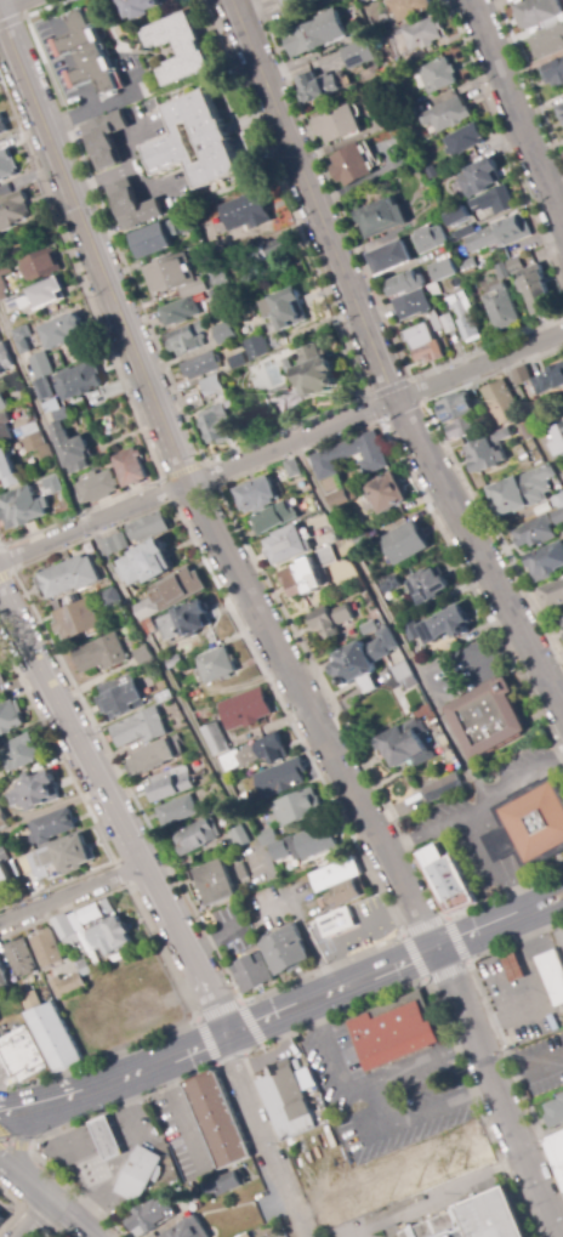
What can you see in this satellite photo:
building: (363, 1)
road: (11, 4)
building: (296, 4)
building: (142, 7)
building: (404, 10)
building: (536, 11)
building: (383, 18)
road: (11, 21)
building: (311, 35)
building: (420, 35)
building: (548, 41)
building: (180, 49)
building: (92, 55)
building: (358, 55)
building: (553, 74)
building: (438, 75)
road: (529, 81)
building: (317, 87)
building: (148, 103)
building: (561, 110)
road: (518, 113)
building: (405, 115)
building: (447, 115)
building: (336, 124)
building: (2, 126)
building: (464, 140)
building: (106, 141)
building: (195, 142)
road: (504, 142)
building: (6, 165)
road: (135, 165)
building: (349, 166)
building: (479, 178)
road: (103, 180)
building: (5, 191)
road: (312, 199)
building: (494, 200)
building: (132, 205)
building: (13, 210)
building: (245, 212)
building: (380, 217)
building: (456, 217)
building: (464, 232)
building: (500, 234)
building: (428, 238)
building: (157, 240)
building: (17, 242)
building: (263, 254)
building: (388, 257)
building: (40, 266)
road: (363, 266)
building: (449, 268)
building: (5, 269)
building: (175, 278)
building: (218, 279)
building: (529, 284)
building: (410, 295)
building: (40, 296)
building: (205, 302)
building: (501, 308)
building: (285, 310)
building: (181, 311)
building: (464, 316)
building: (436, 322)
building: (447, 324)
building: (62, 331)
building: (223, 334)
building: (187, 339)
building: (0, 342)
building: (24, 342)
building: (423, 345)
building: (256, 348)
building: (5, 358)
building: (233, 358)
road: (113, 359)
building: (200, 365)
road: (479, 367)
building: (317, 373)
building: (521, 374)
building: (41, 375)
building: (550, 379)
building: (80, 381)
building: (15, 382)
building: (205, 387)
road: (386, 387)
building: (278, 391)
building: (501, 402)
building: (2, 403)
building: (538, 405)
building: (454, 408)
building: (61, 415)
building: (546, 418)
road: (530, 419)
building: (216, 421)
building: (5, 429)
building: (461, 429)
building: (527, 430)
building: (502, 435)
building: (559, 438)
building: (38, 447)
building: (70, 448)
road: (239, 449)
building: (523, 454)
building: (482, 455)
parking lot: (561, 460)
building: (326, 463)
road: (456, 466)
building: (8, 467)
building: (130, 469)
building: (292, 469)
road: (181, 470)
road: (197, 478)
building: (49, 483)
building: (97, 487)
building: (521, 489)
building: (388, 490)
building: (258, 494)
building: (342, 498)
building: (558, 499)
building: (23, 507)
road: (227, 507)
building: (557, 517)
building: (274, 518)
building: (149, 528)
building: (534, 532)
building: (405, 540)
building: (363, 543)
building: (115, 544)
building: (286, 545)
road: (479, 554)
building: (545, 561)
building: (147, 563)
road: (12, 571)
road: (6, 573)
building: (307, 574)
building: (70, 577)
building: (387, 584)
building: (428, 585)
building: (552, 594)
building: (170, 596)
building: (108, 598)
building: (561, 618)
building: (76, 620)
building: (187, 620)
building: (331, 620)
road: (387, 620)
building: (438, 626)
road: (267, 630)
building: (101, 654)
road: (157, 657)
building: (364, 660)
building: (174, 662)
building: (217, 665)
building: (405, 676)
building: (1, 679)
building: (120, 698)
building: (404, 707)
building: (245, 710)
building: (10, 717)
building: (487, 717)
building: (141, 728)
building: (216, 739)
building: (409, 741)
building: (18, 753)
building: (256, 754)
building: (150, 757)
building: (281, 778)
road: (514, 781)
building: (170, 785)
building: (443, 788)
building: (33, 793)
road: (86, 807)
building: (298, 807)
building: (177, 811)
road: (115, 813)
building: (2, 821)
building: (233, 822)
building: (528, 824)
building: (53, 825)
building: (195, 836)
building: (268, 836)
road: (480, 836)
building: (239, 838)
building: (308, 842)
building: (61, 858)
building: (15, 861)
building: (241, 872)
building: (4, 874)
building: (335, 875)
building: (445, 878)
building: (216, 884)
road: (507, 887)
road: (70, 891)
building: (353, 892)
building: (339, 924)
road: (403, 934)
building: (110, 936)
building: (72, 937)
building: (45, 948)
building: (286, 953)
building: (21, 958)
building: (512, 964)
building: (85, 968)
building: (252, 972)
building: (2, 975)
building: (552, 975)
road: (178, 985)
building: (67, 986)
road: (218, 1010)
road: (283, 1014)
road: (443, 1025)
building: (394, 1031)
road: (495, 1032)
building: (53, 1035)
building: (23, 1052)
road: (529, 1073)
building: (286, 1101)
building: (555, 1113)
building: (216, 1118)
road: (59, 1128)
parking lot: (373, 1128)
building: (107, 1136)
road: (265, 1136)
road: (4, 1144)
road: (12, 1144)
building: (556, 1148)
building: (138, 1173)
building: (561, 1173)
building: (226, 1184)
road: (46, 1197)
building: (1, 1215)
road: (33, 1218)
building: (150, 1218)
building: (472, 1220)
building: (188, 1230)
building: (246, 1235)

